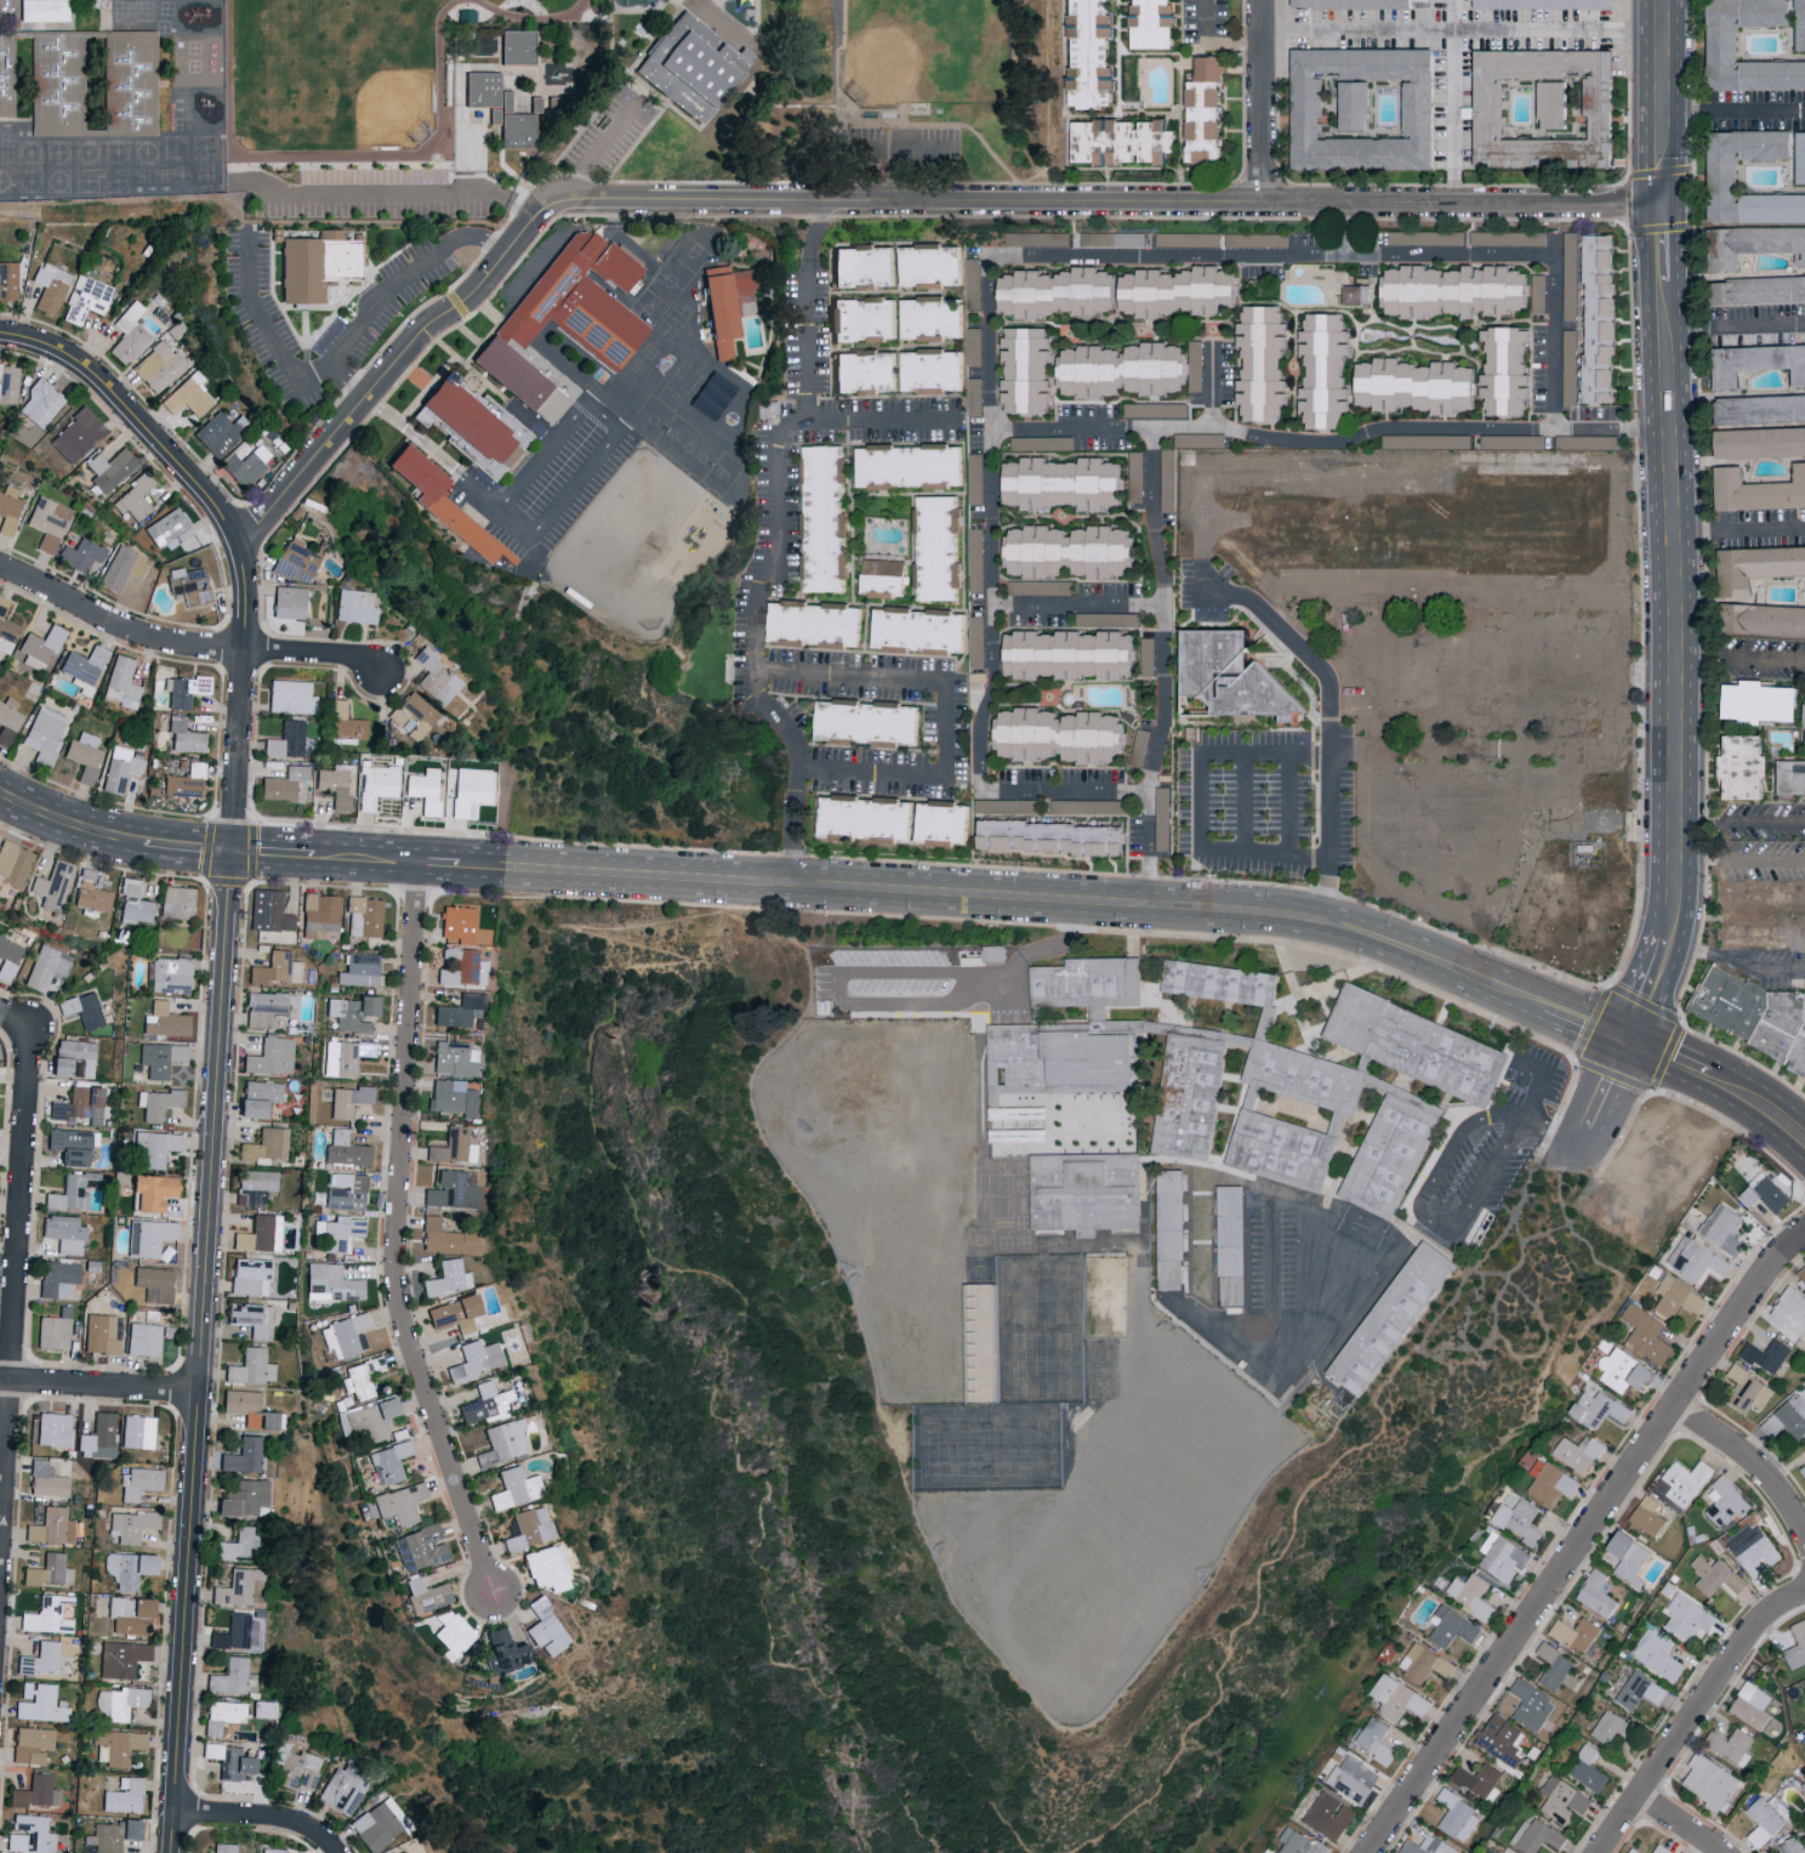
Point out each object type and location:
building: (1350, 4)
building: (1543, 4)
building: (11, 8)
building: (42, 10)
building: (1150, 24)
building: (1799, 25)
road: (1463, 28)
building: (1720, 44)
road: (1209, 46)
park: (927, 52)
building: (1089, 53)
building: (694, 68)
building: (1207, 69)
building: (58, 81)
building: (520, 95)
park: (831, 95)
road: (1259, 101)
road: (1454, 101)
road: (1666, 101)
building: (1541, 107)
building: (1360, 109)
road: (1735, 110)
building: (1201, 124)
parking lot: (613, 135)
building: (1118, 141)
road: (602, 150)
road: (895, 150)
road: (927, 150)
parking lot: (900, 152)
building: (1799, 158)
building: (1721, 177)
road: (400, 192)
road: (1111, 200)
road: (815, 227)
road: (1344, 228)
road: (1357, 228)
building: (1422, 238)
building: (1036, 239)
building: (1111, 239)
building: (1507, 239)
building: (1255, 240)
building: (1753, 245)
road: (1525, 254)
road: (1155, 255)
building: (1568, 263)
building: (315, 265)
building: (865, 267)
building: (933, 267)
building: (8, 280)
building: (972, 284)
building: (50, 286)
building: (1759, 290)
building: (1450, 291)
building: (1053, 292)
building: (1173, 292)
building: (1537, 294)
building: (1354, 295)
building: (86, 299)
building: (730, 312)
building: (1596, 318)
building: (865, 319)
building: (933, 319)
road: (1736, 323)
building: (568, 330)
building: (130, 343)
road: (336, 346)
building: (972, 347)
building: (1259, 363)
building: (1756, 363)
road: (391, 364)
building: (158, 366)
building: (1023, 370)
building: (1120, 370)
building: (933, 371)
building: (1321, 371)
building: (1503, 371)
building: (867, 373)
road: (346, 377)
building: (1194, 380)
road: (583, 382)
building: (8, 383)
road: (1212, 385)
building: (1412, 386)
building: (189, 394)
building: (973, 397)
building: (41, 403)
building: (1759, 410)
road: (135, 416)
road: (879, 419)
building: (474, 421)
road: (411, 430)
building: (218, 433)
building: (76, 434)
road: (611, 437)
building: (1198, 439)
road: (1328, 442)
building: (1492, 443)
building: (1759, 443)
building: (1031, 444)
road: (546, 450)
building: (245, 462)
building: (910, 467)
building: (109, 468)
building: (974, 478)
building: (1134, 478)
building: (1167, 481)
building: (1059, 484)
building: (1756, 490)
building: (137, 496)
building: (443, 504)
road: (494, 505)
building: (8, 510)
building: (826, 519)
building: (47, 522)
road: (991, 524)
building: (167, 528)
road: (776, 528)
road: (1737, 528)
building: (939, 550)
building: (1065, 552)
building: (81, 555)
building: (296, 561)
building: (121, 567)
building: (1755, 567)
building: (886, 568)
building: (189, 586)
building: (884, 586)
road: (1247, 597)
building: (289, 602)
building: (355, 606)
road: (1078, 606)
building: (1122, 619)
building: (1764, 620)
road: (1670, 624)
building: (816, 625)
building: (6, 627)
building: (921, 632)
road: (183, 642)
building: (39, 648)
building: (1065, 655)
building: (1145, 656)
road: (1737, 656)
building: (84, 664)
road: (1162, 666)
road: (848, 675)
building: (435, 676)
building: (1230, 680)
building: (121, 683)
building: (183, 689)
building: (290, 697)
building: (1756, 703)
building: (414, 715)
building: (7, 720)
building: (347, 722)
building: (869, 724)
road: (945, 728)
building: (1804, 731)
building: (44, 734)
building: (186, 735)
building: (1055, 737)
building: (286, 740)
building: (1138, 749)
road: (1264, 752)
building: (84, 756)
building: (1739, 768)
road: (872, 771)
building: (120, 773)
building: (1789, 778)
building: (184, 781)
building: (284, 785)
building: (336, 785)
building: (377, 785)
building: (426, 790)
building: (469, 790)
road: (1066, 792)
road: (1329, 796)
road: (1200, 801)
road: (1243, 802)
road: (1288, 805)
building: (869, 820)
road: (1736, 824)
building: (945, 825)
building: (1160, 825)
road: (793, 836)
building: (1047, 837)
road: (1265, 853)
building: (1593, 860)
building: (13, 863)
road: (1736, 864)
road: (713, 880)
building: (53, 885)
road: (1326, 889)
building: (91, 893)
building: (1763, 894)
building: (177, 902)
building: (133, 903)
building: (269, 910)
building: (320, 914)
building: (364, 916)
building: (457, 922)
building: (277, 936)
building: (1764, 936)
building: (1558, 947)
building: (992, 953)
road: (1701, 953)
building: (8, 957)
road: (1776, 962)
building: (47, 966)
building: (460, 966)
building: (278, 967)
building: (360, 970)
building: (169, 971)
road: (1532, 984)
building: (1084, 985)
building: (1217, 988)
road: (893, 1000)
building: (266, 1007)
building: (82, 1008)
building: (457, 1008)
road: (1521, 1011)
road: (5, 1012)
building: (353, 1012)
building: (164, 1019)
building: (1752, 1023)
building: (1414, 1048)
building: (271, 1056)
building: (346, 1056)
building: (160, 1057)
building: (73, 1058)
building: (452, 1058)
building: (1049, 1073)
parking lot: (1537, 1073)
road: (1548, 1079)
road: (1718, 1081)
road: (1532, 1090)
building: (258, 1096)
building: (450, 1097)
road: (1601, 1097)
building: (348, 1099)
building: (158, 1102)
building: (79, 1104)
building: (1288, 1120)
road: (1531, 1132)
building: (72, 1143)
building: (264, 1144)
building: (452, 1146)
building: (154, 1147)
building: (345, 1149)
building: (1678, 1160)
building: (254, 1186)
building: (347, 1188)
parking lot: (1463, 1188)
building: (152, 1189)
building: (450, 1189)
building: (74, 1190)
building: (1086, 1193)
road: (1277, 1193)
building: (1765, 1194)
road: (209, 1198)
road: (670, 1205)
building: (1724, 1230)
building: (342, 1232)
road: (1448, 1232)
building: (64, 1233)
building: (256, 1233)
building: (1168, 1233)
building: (149, 1237)
road: (398, 1237)
building: (444, 1238)
building: (1231, 1247)
building: (1693, 1261)
building: (1801, 1274)
road: (13, 1275)
building: (250, 1275)
building: (58, 1278)
building: (446, 1278)
building: (334, 1281)
road: (1272, 1281)
building: (154, 1283)
road: (1201, 1288)
road: (1349, 1294)
building: (1675, 1297)
building: (1788, 1313)
building: (456, 1314)
building: (250, 1317)
building: (1389, 1320)
building: (55, 1329)
building: (101, 1334)
building: (345, 1334)
building: (1645, 1335)
building: (143, 1338)
building: (1766, 1355)
building: (476, 1359)
building: (251, 1366)
building: (1624, 1371)
building: (363, 1377)
road: (98, 1385)
building: (1748, 1391)
building: (485, 1404)
building: (247, 1408)
building: (1596, 1409)
building: (371, 1419)
building: (1787, 1419)
building: (53, 1428)
building: (137, 1431)
building: (98, 1433)
building: (503, 1442)
building: (1578, 1453)
building: (241, 1455)
building: (389, 1461)
road: (1748, 1463)
building: (1803, 1471)
road: (1319, 1476)
building: (45, 1479)
building: (139, 1482)
building: (1681, 1483)
building: (1553, 1485)
building: (514, 1488)
building: (241, 1497)
building: (400, 1502)
building: (1724, 1502)
building: (1646, 1516)
building: (1519, 1522)
building: (131, 1524)
building: (52, 1527)
building: (528, 1528)
road: (1583, 1539)
building: (237, 1544)
building: (1752, 1550)
building: (1501, 1557)
building: (1627, 1557)
building: (129, 1568)
building: (547, 1568)
building: (49, 1570)
building: (1714, 1576)
building: (240, 1587)
building: (1596, 1593)
building: (425, 1595)
building: (1470, 1595)
building: (47, 1615)
building: (130, 1615)
building: (1686, 1618)
building: (545, 1627)
building: (1451, 1627)
building: (448, 1630)
building: (237, 1632)
building: (1575, 1633)
building: (1797, 1647)
building: (502, 1649)
building: (1657, 1654)
building: (41, 1658)
building: (123, 1658)
building: (1423, 1664)
building: (1555, 1669)
building: (232, 1677)
building: (1639, 1690)
building: (1397, 1699)
building: (119, 1701)
building: (40, 1703)
building: (1531, 1706)
building: (1750, 1706)
road: (1693, 1713)
building: (222, 1715)
building: (1611, 1727)
building: (227, 1728)
building: (1501, 1739)
building: (1374, 1740)
building: (32, 1744)
building: (119, 1745)
building: (1730, 1746)
building: (228, 1760)
building: (296, 1767)
building: (1587, 1769)
building: (1353, 1779)
building: (1477, 1780)
building: (1708, 1781)
building: (342, 1789)
building: (36, 1791)
building: (124, 1795)
building: (1561, 1800)
building: (1328, 1817)
building: (1456, 1817)
building: (1766, 1819)
road: (262, 1820)
road: (986, 1820)
building: (376, 1824)
road: (1674, 1826)
building: (30, 1834)
building: (109, 1836)
building: (1534, 1836)
building: (1299, 1843)
building: (1428, 1846)
building: (1790, 1847)
building: (223, 1848)
building: (1659, 1849)
building: (273, 1851)
building: (1632, 1851)
building: (403, 1852)
building: (1499, 1852)

